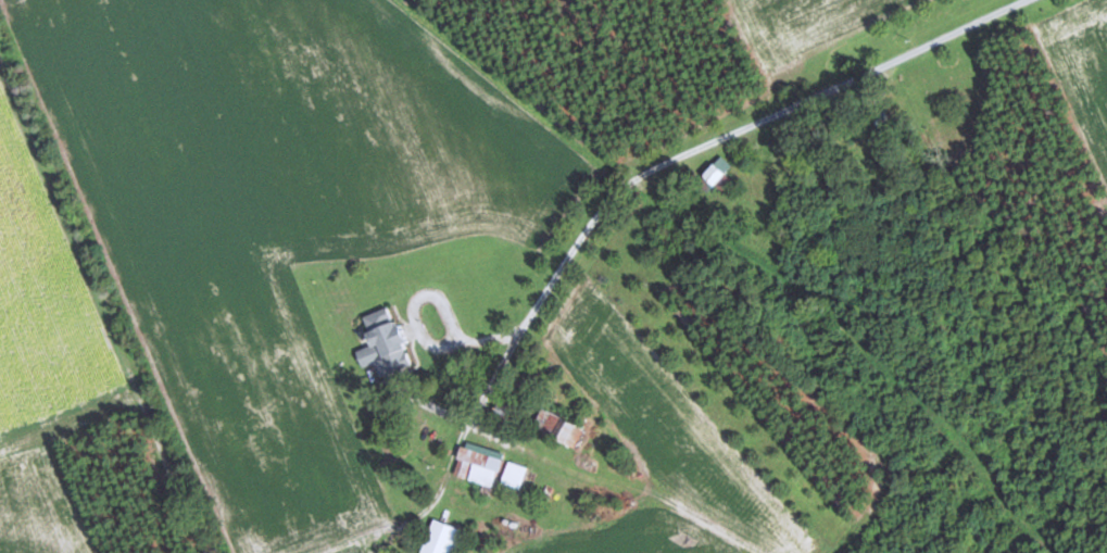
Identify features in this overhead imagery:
road: (771, 79)
building: (884, 122)
building: (720, 171)
building: (388, 340)
building: (559, 426)
building: (483, 463)
building: (516, 475)
building: (446, 538)

